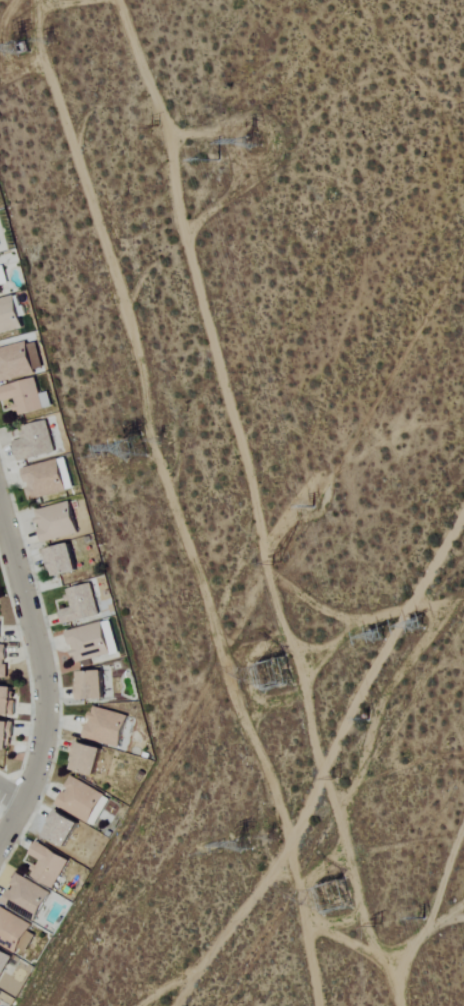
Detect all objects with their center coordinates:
power tower: (48, 38)
power tower: (22, 41)
power tower: (157, 124)
power tower: (261, 151)
power tower: (216, 158)
building: (0, 245)
building: (3, 280)
building: (10, 316)
building: (16, 362)
building: (27, 397)
building: (36, 442)
power tower: (165, 442)
power tower: (127, 449)
power tower: (104, 460)
building: (48, 479)
power tower: (310, 505)
building: (58, 522)
power tower: (279, 558)
building: (63, 561)
building: (82, 605)
power tower: (423, 618)
building: (0, 624)
power tower: (375, 638)
building: (4, 662)
power tower: (289, 675)
road: (42, 676)
building: (92, 686)
building: (8, 701)
building: (108, 727)
building: (6, 736)
road: (332, 758)
building: (88, 759)
power tower: (342, 771)
road: (11, 795)
building: (82, 801)
building: (64, 829)
power tower: (277, 836)
power tower: (243, 847)
building: (49, 865)
building: (28, 898)
power tower: (335, 908)
power tower: (417, 915)
power tower: (380, 922)
building: (15, 931)
building: (4, 961)

